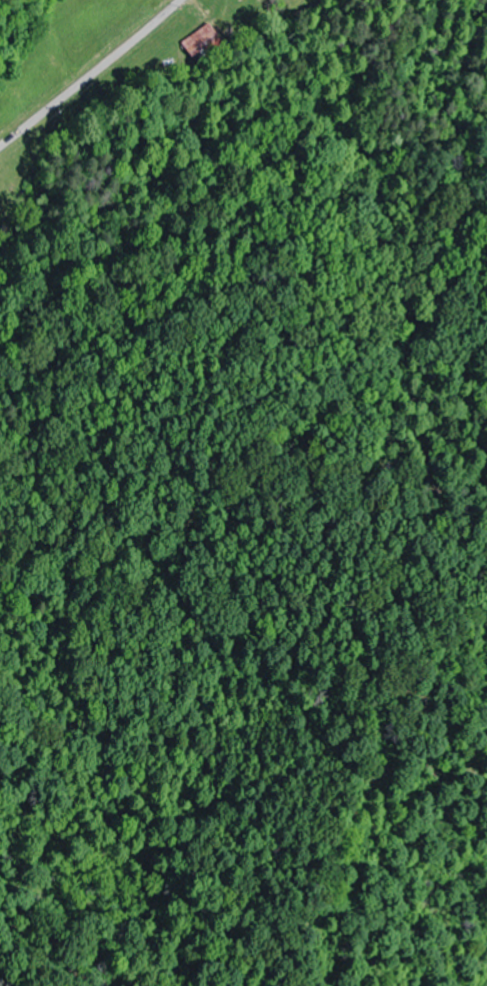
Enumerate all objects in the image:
building: (200, 40)
road: (92, 75)

